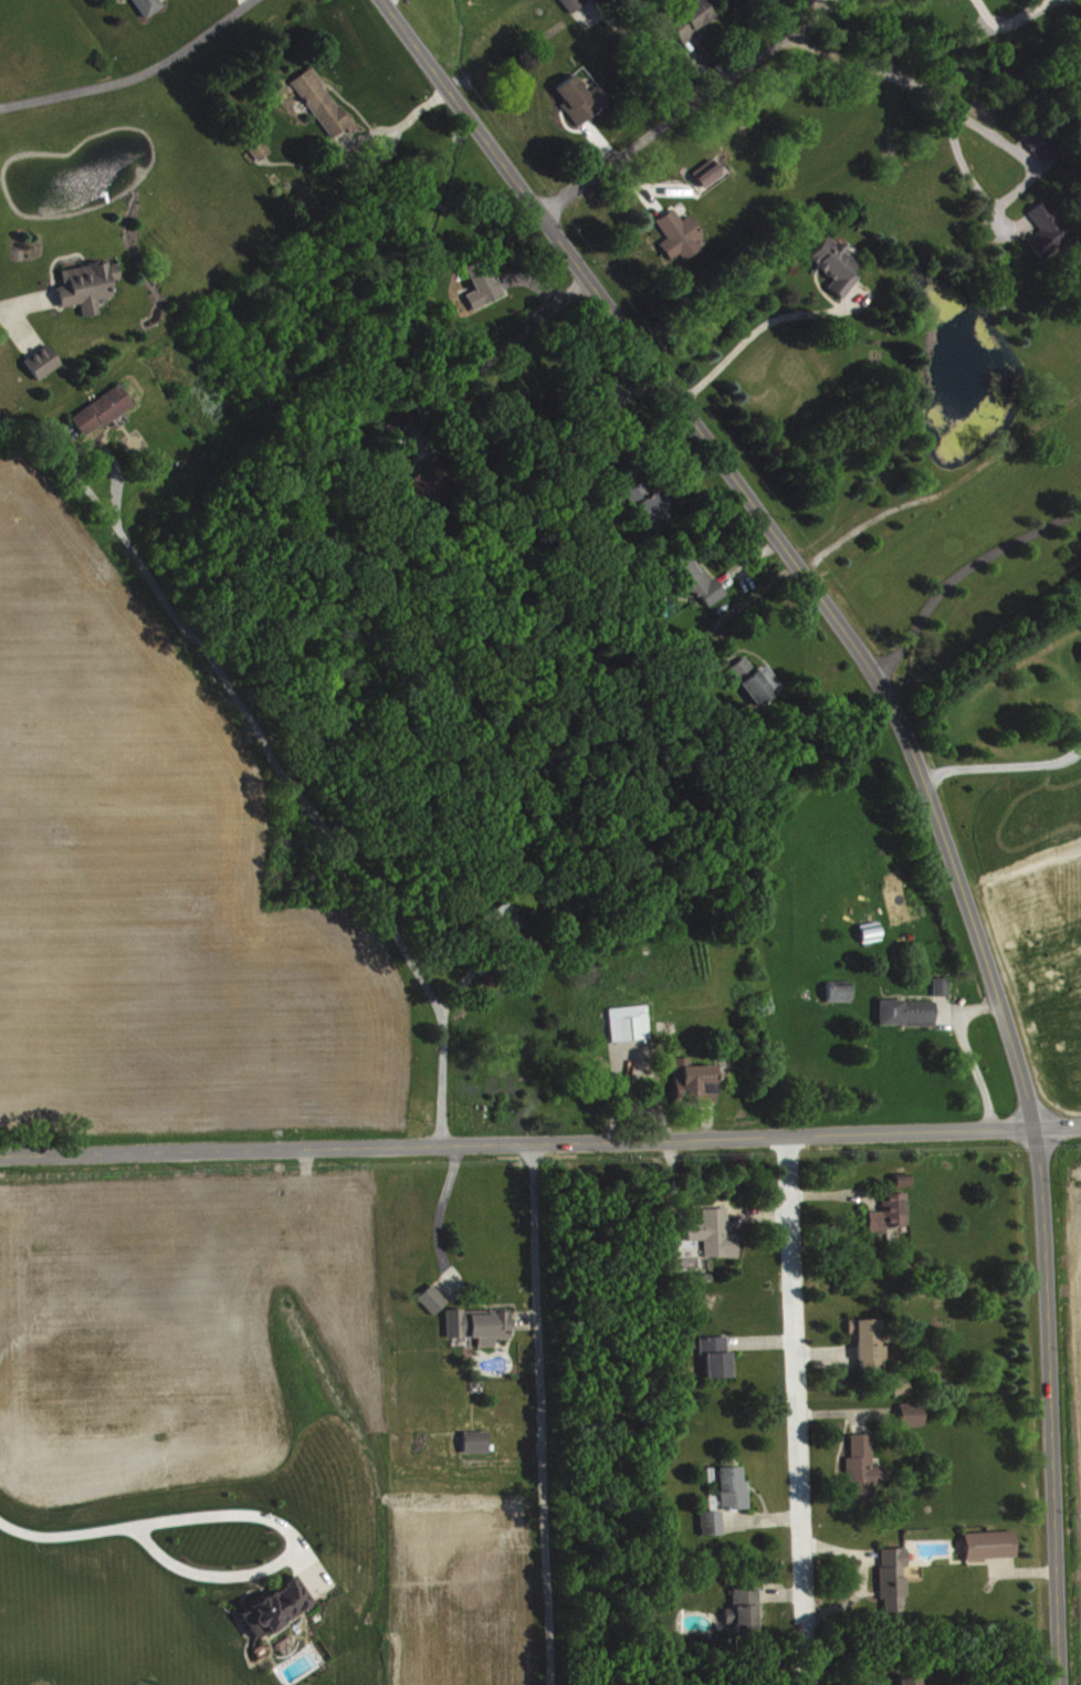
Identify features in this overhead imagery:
building: (576, 3)
building: (151, 6)
building: (692, 19)
road: (1012, 21)
road: (135, 74)
road: (909, 81)
building: (584, 97)
building: (326, 105)
road: (686, 109)
building: (1043, 143)
building: (262, 149)
building: (711, 171)
building: (1050, 229)
building: (682, 233)
building: (837, 264)
building: (90, 284)
building: (485, 286)
road: (23, 300)
road: (753, 336)
road: (506, 345)
building: (45, 360)
building: (101, 411)
building: (402, 425)
building: (432, 475)
building: (659, 509)
road: (962, 567)
building: (700, 579)
building: (757, 680)
road: (919, 762)
road: (1005, 766)
road: (301, 803)
building: (508, 919)
building: (872, 931)
building: (944, 985)
building: (842, 991)
building: (910, 1012)
building: (632, 1022)
building: (696, 1080)
road: (540, 1144)
building: (892, 1212)
road: (439, 1215)
building: (717, 1233)
building: (435, 1298)
building: (481, 1325)
building: (871, 1343)
building: (718, 1356)
crop: (1069, 1377)
building: (904, 1385)
road: (797, 1412)
building: (914, 1414)
road: (543, 1415)
building: (479, 1442)
building: (865, 1467)
building: (735, 1488)
building: (714, 1522)
road: (69, 1536)
building: (991, 1543)
road: (291, 1551)
building: (894, 1579)
building: (276, 1606)
building: (746, 1612)
building: (912, 1679)

